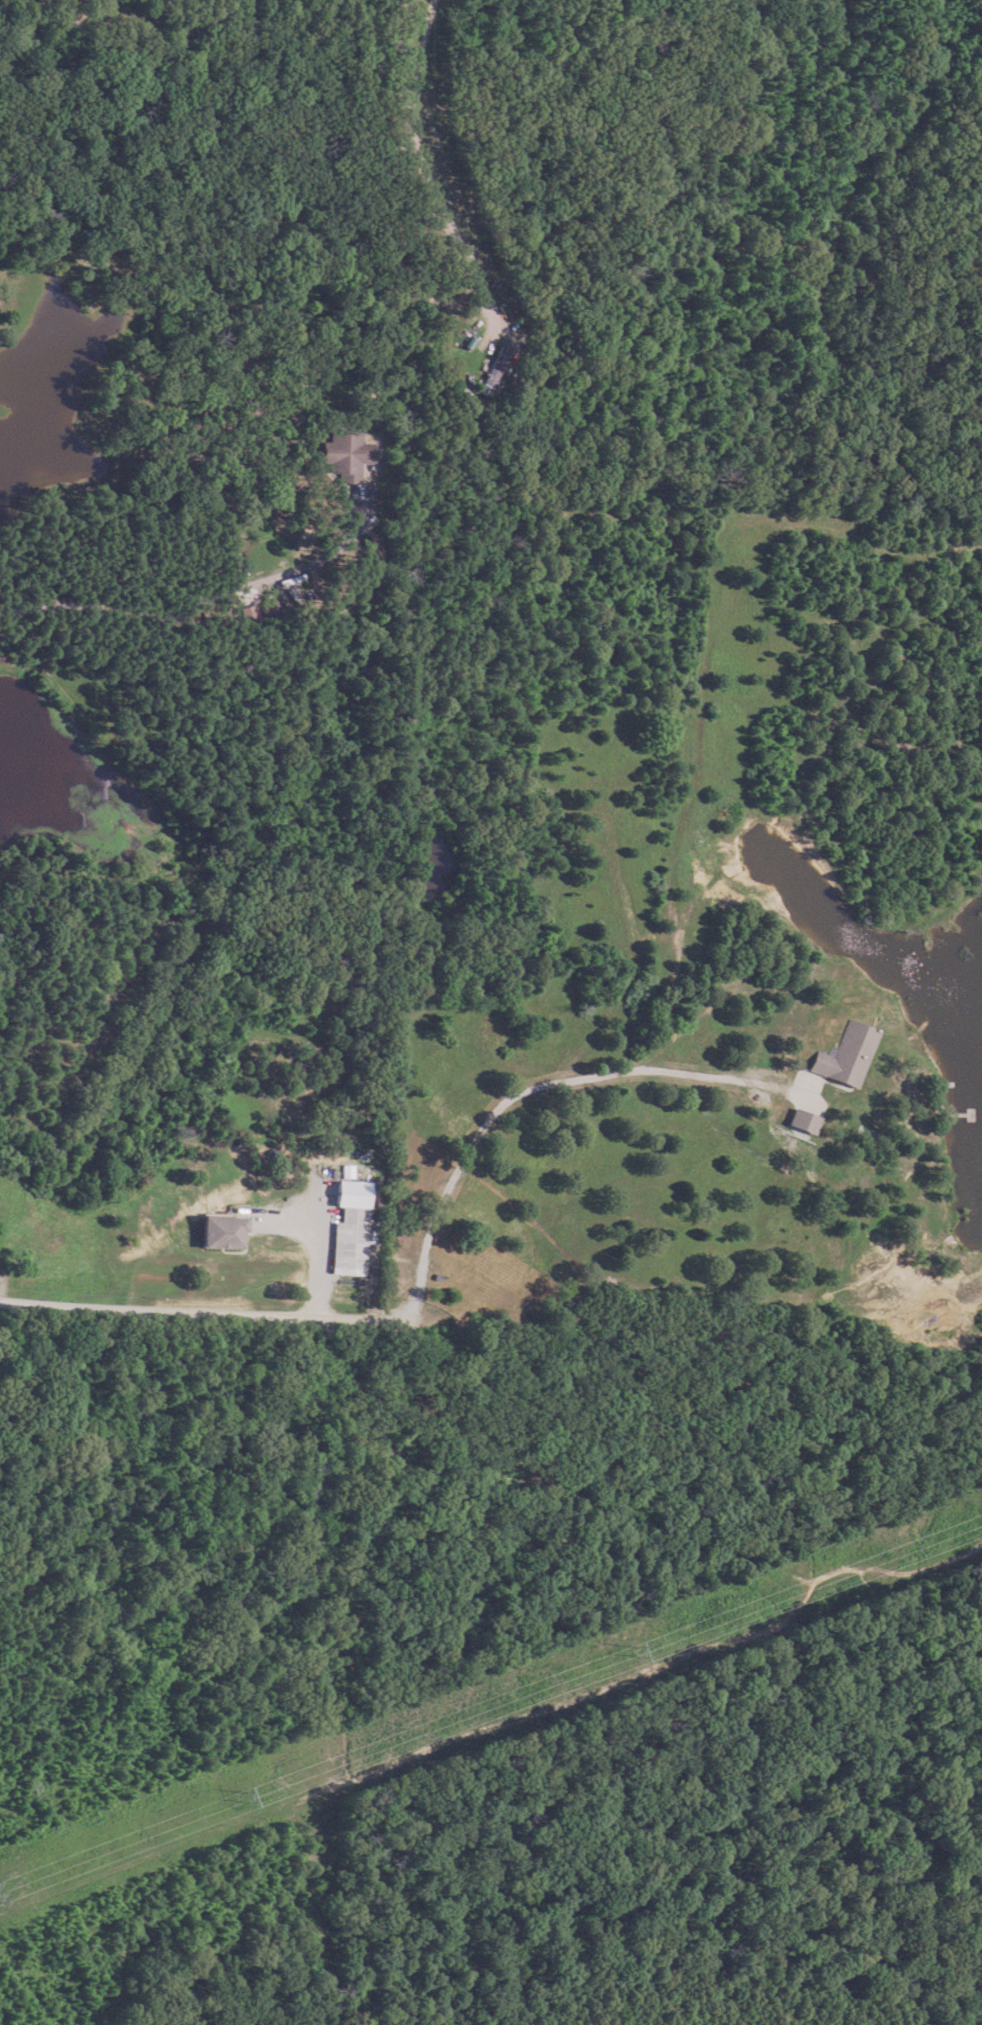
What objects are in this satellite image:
building: (487, 373)
building: (342, 455)
road: (783, 991)
building: (823, 1045)
road: (457, 1173)
building: (344, 1241)
road: (166, 1310)
road: (680, 1664)
road: (208, 1711)

